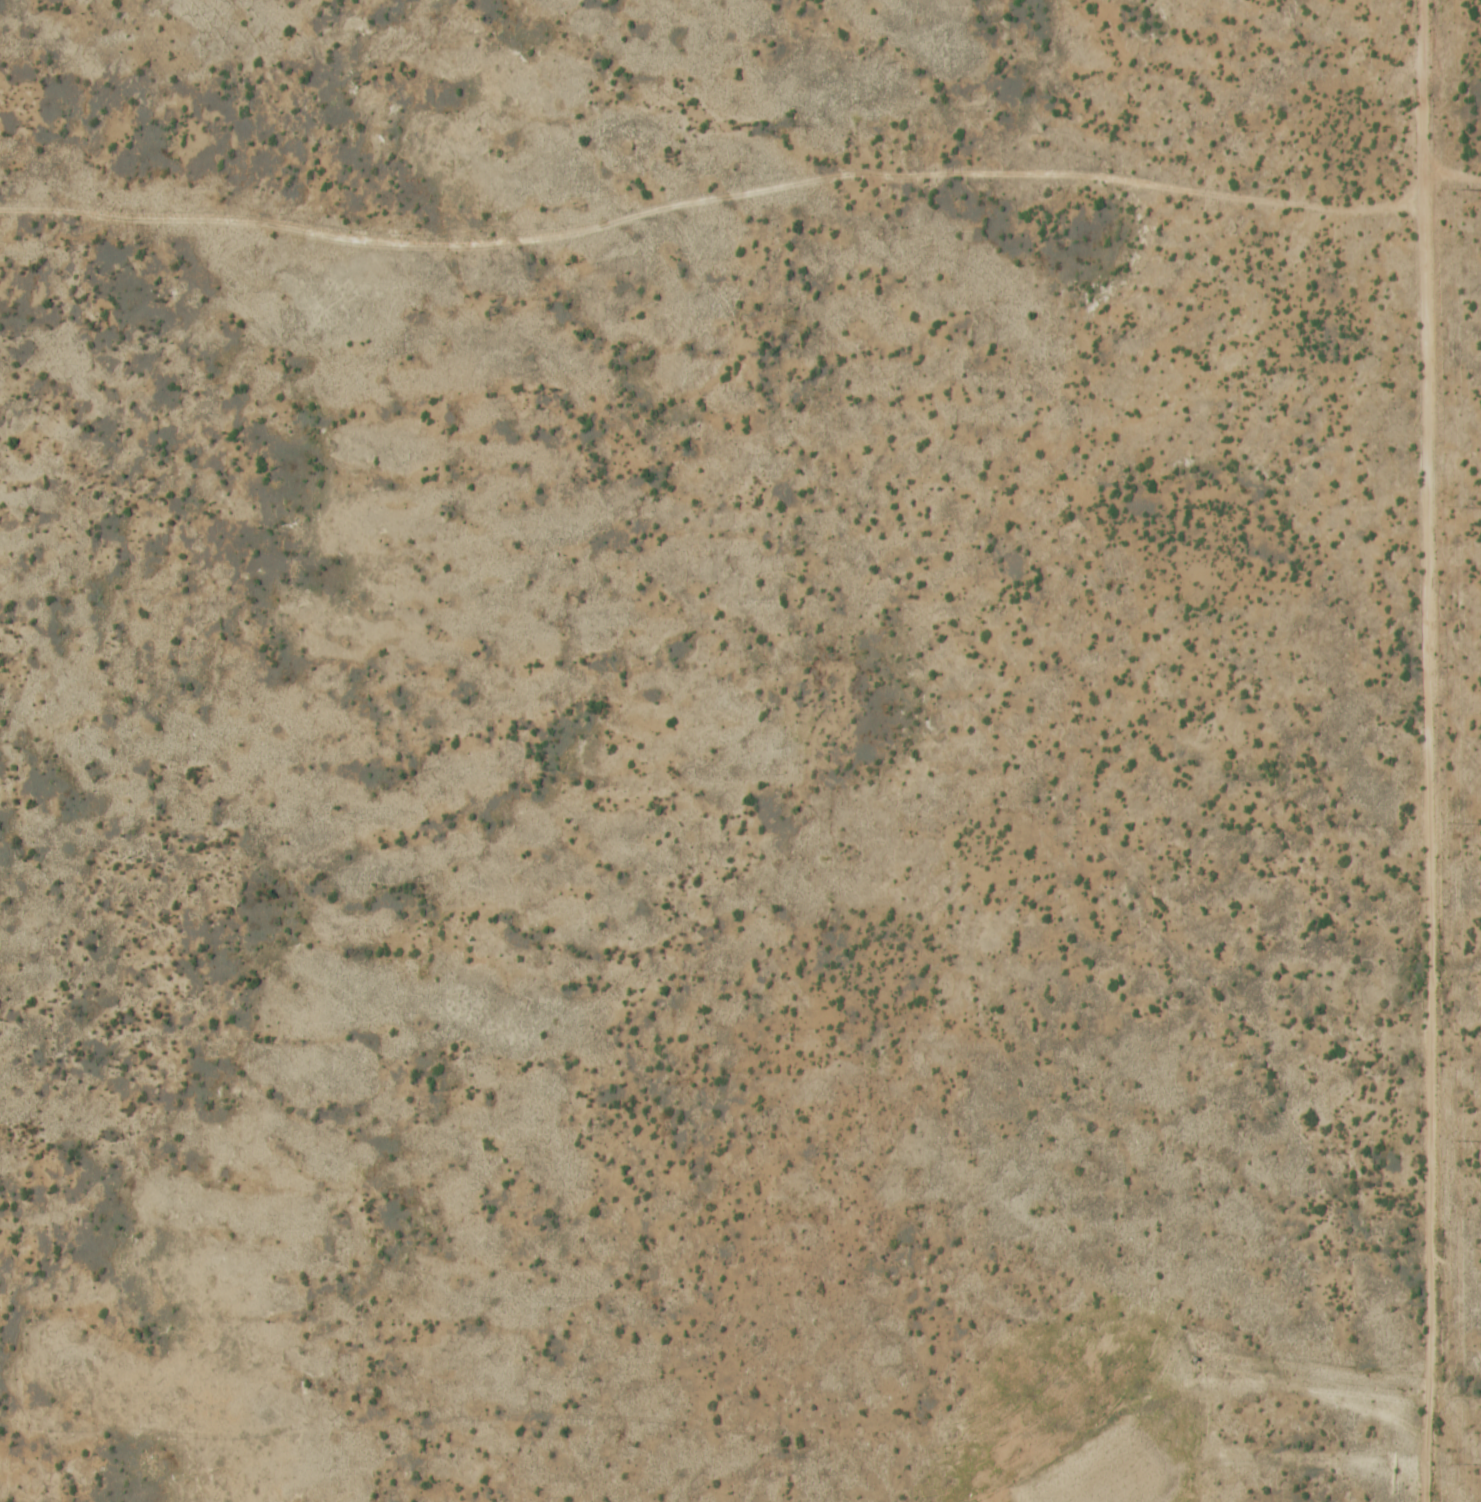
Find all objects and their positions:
road: (1411, 79)
power tower: (1450, 188)
road: (727, 194)
power tower: (1451, 505)
power tower: (1453, 823)
road: (1427, 843)
power tower: (1453, 1140)
power tower: (1455, 1463)

